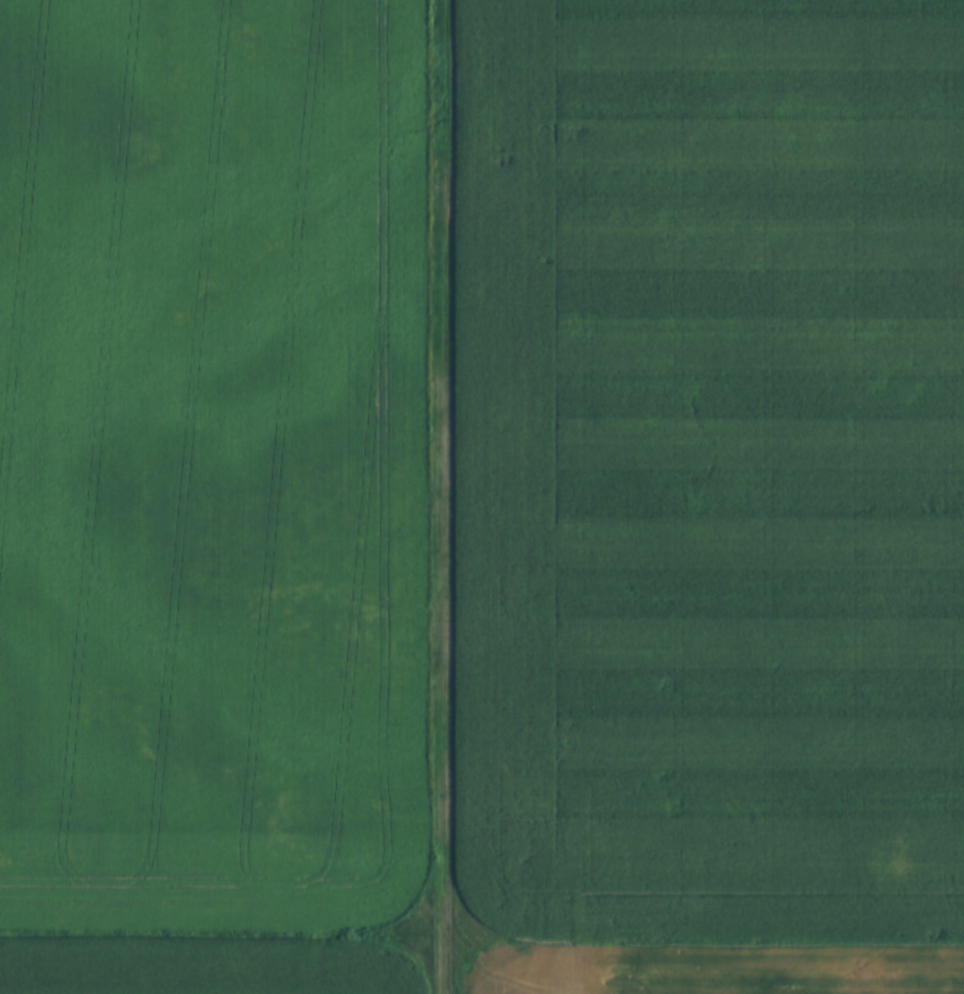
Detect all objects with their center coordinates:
road: (446, 497)

